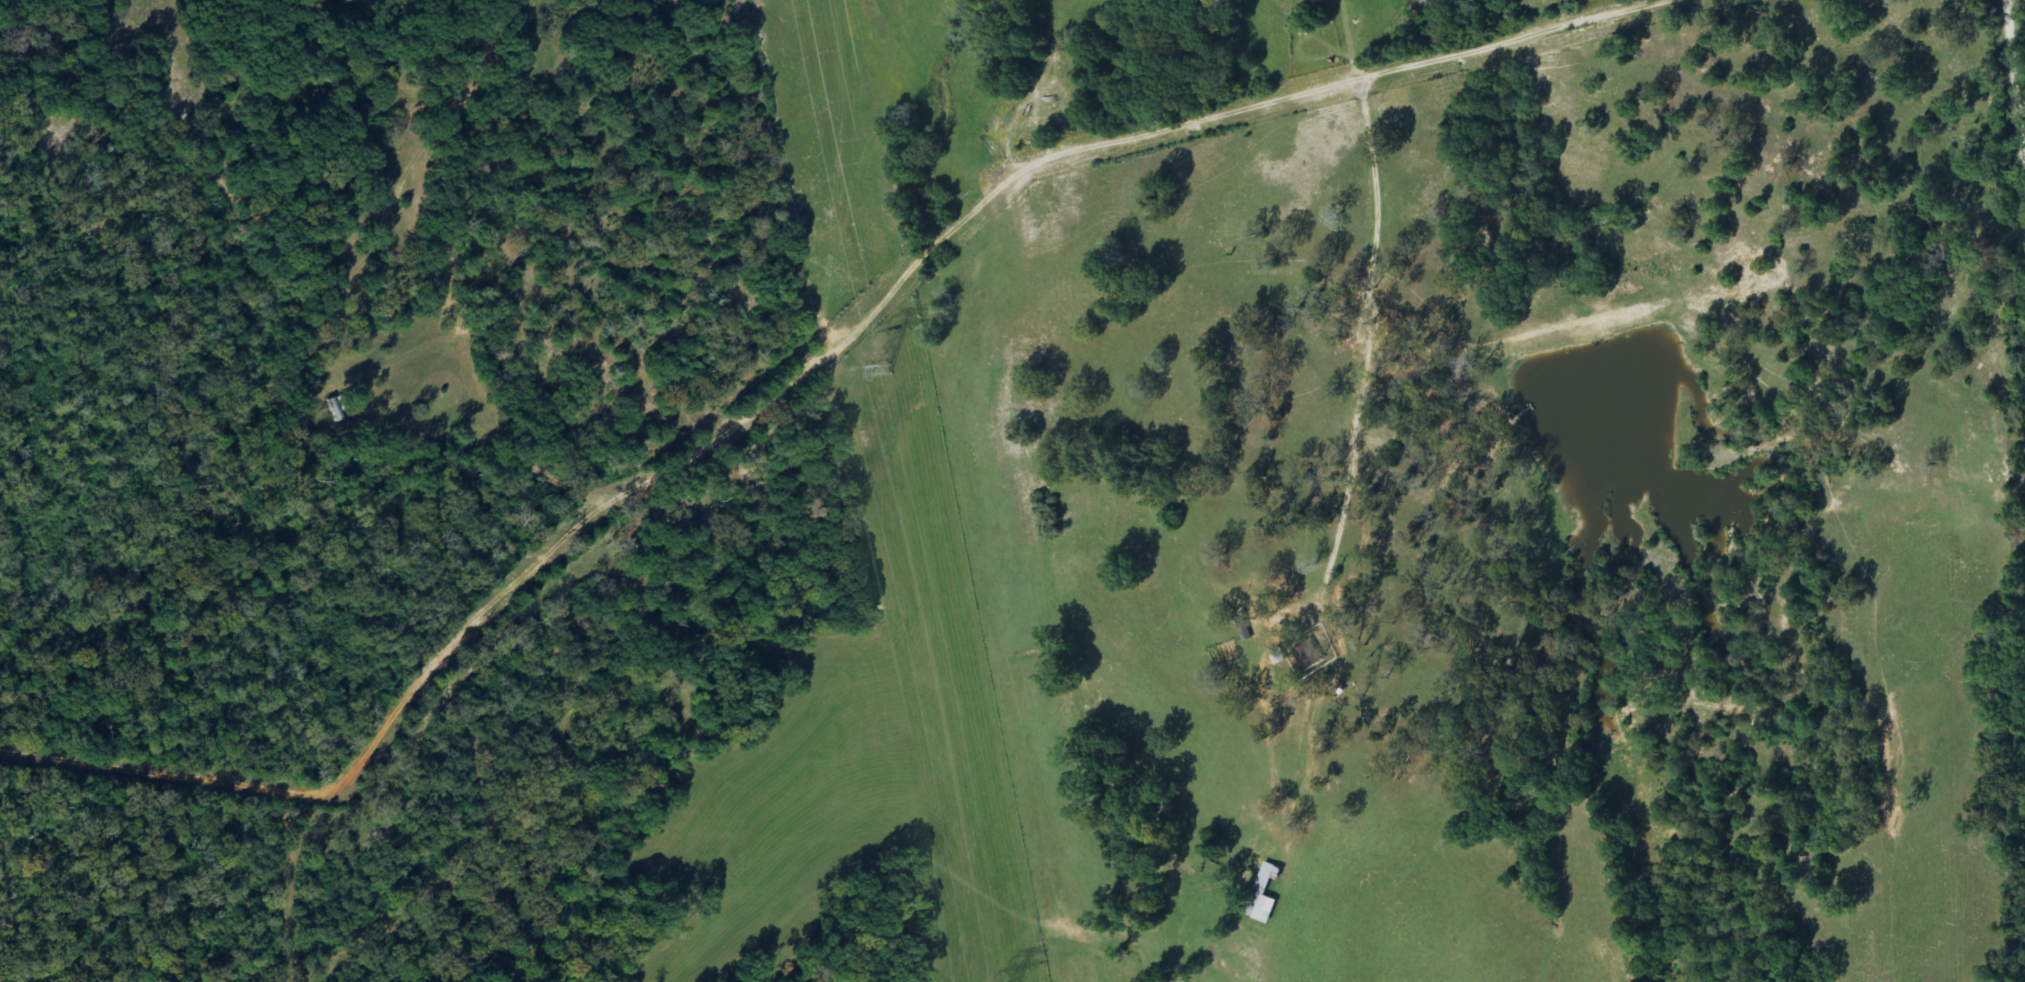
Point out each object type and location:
road: (2014, 132)
power tower: (878, 373)
road: (1873, 404)
road: (404, 879)
building: (1264, 897)
road: (1910, 941)

